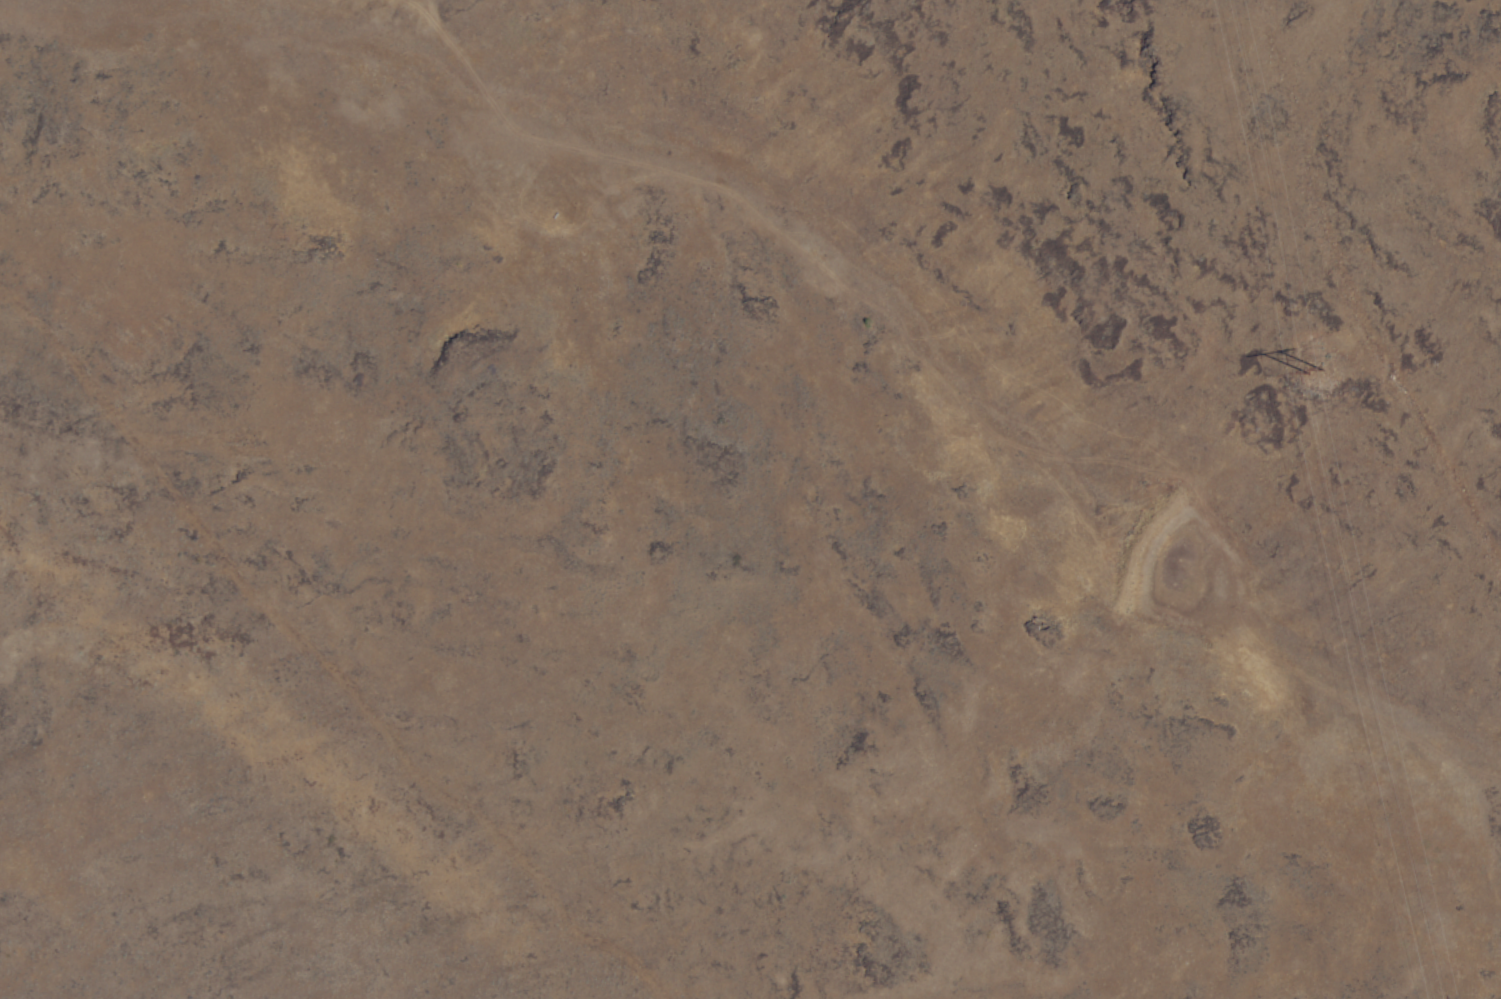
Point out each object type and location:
road: (537, 363)
power tower: (1311, 368)

